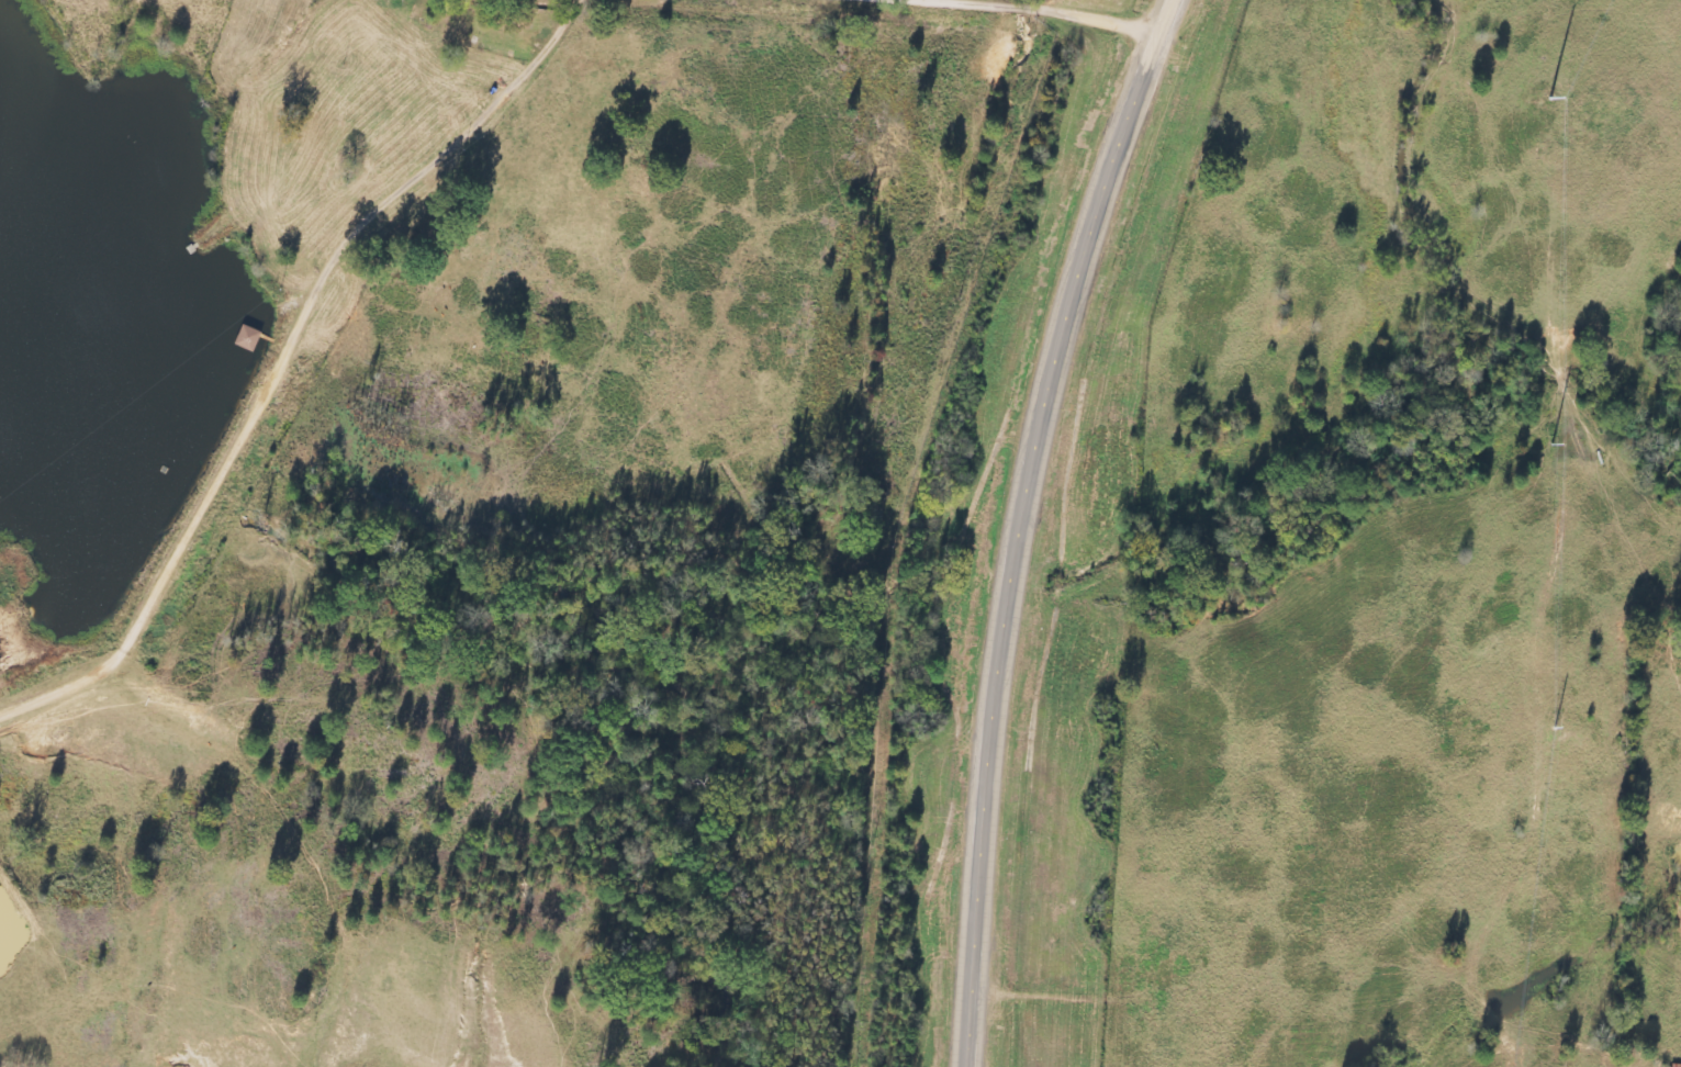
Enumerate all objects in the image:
road: (1016, 11)
power tower: (1543, 108)
building: (250, 338)
power tower: (1537, 434)
road: (1016, 523)
power tower: (1557, 716)

